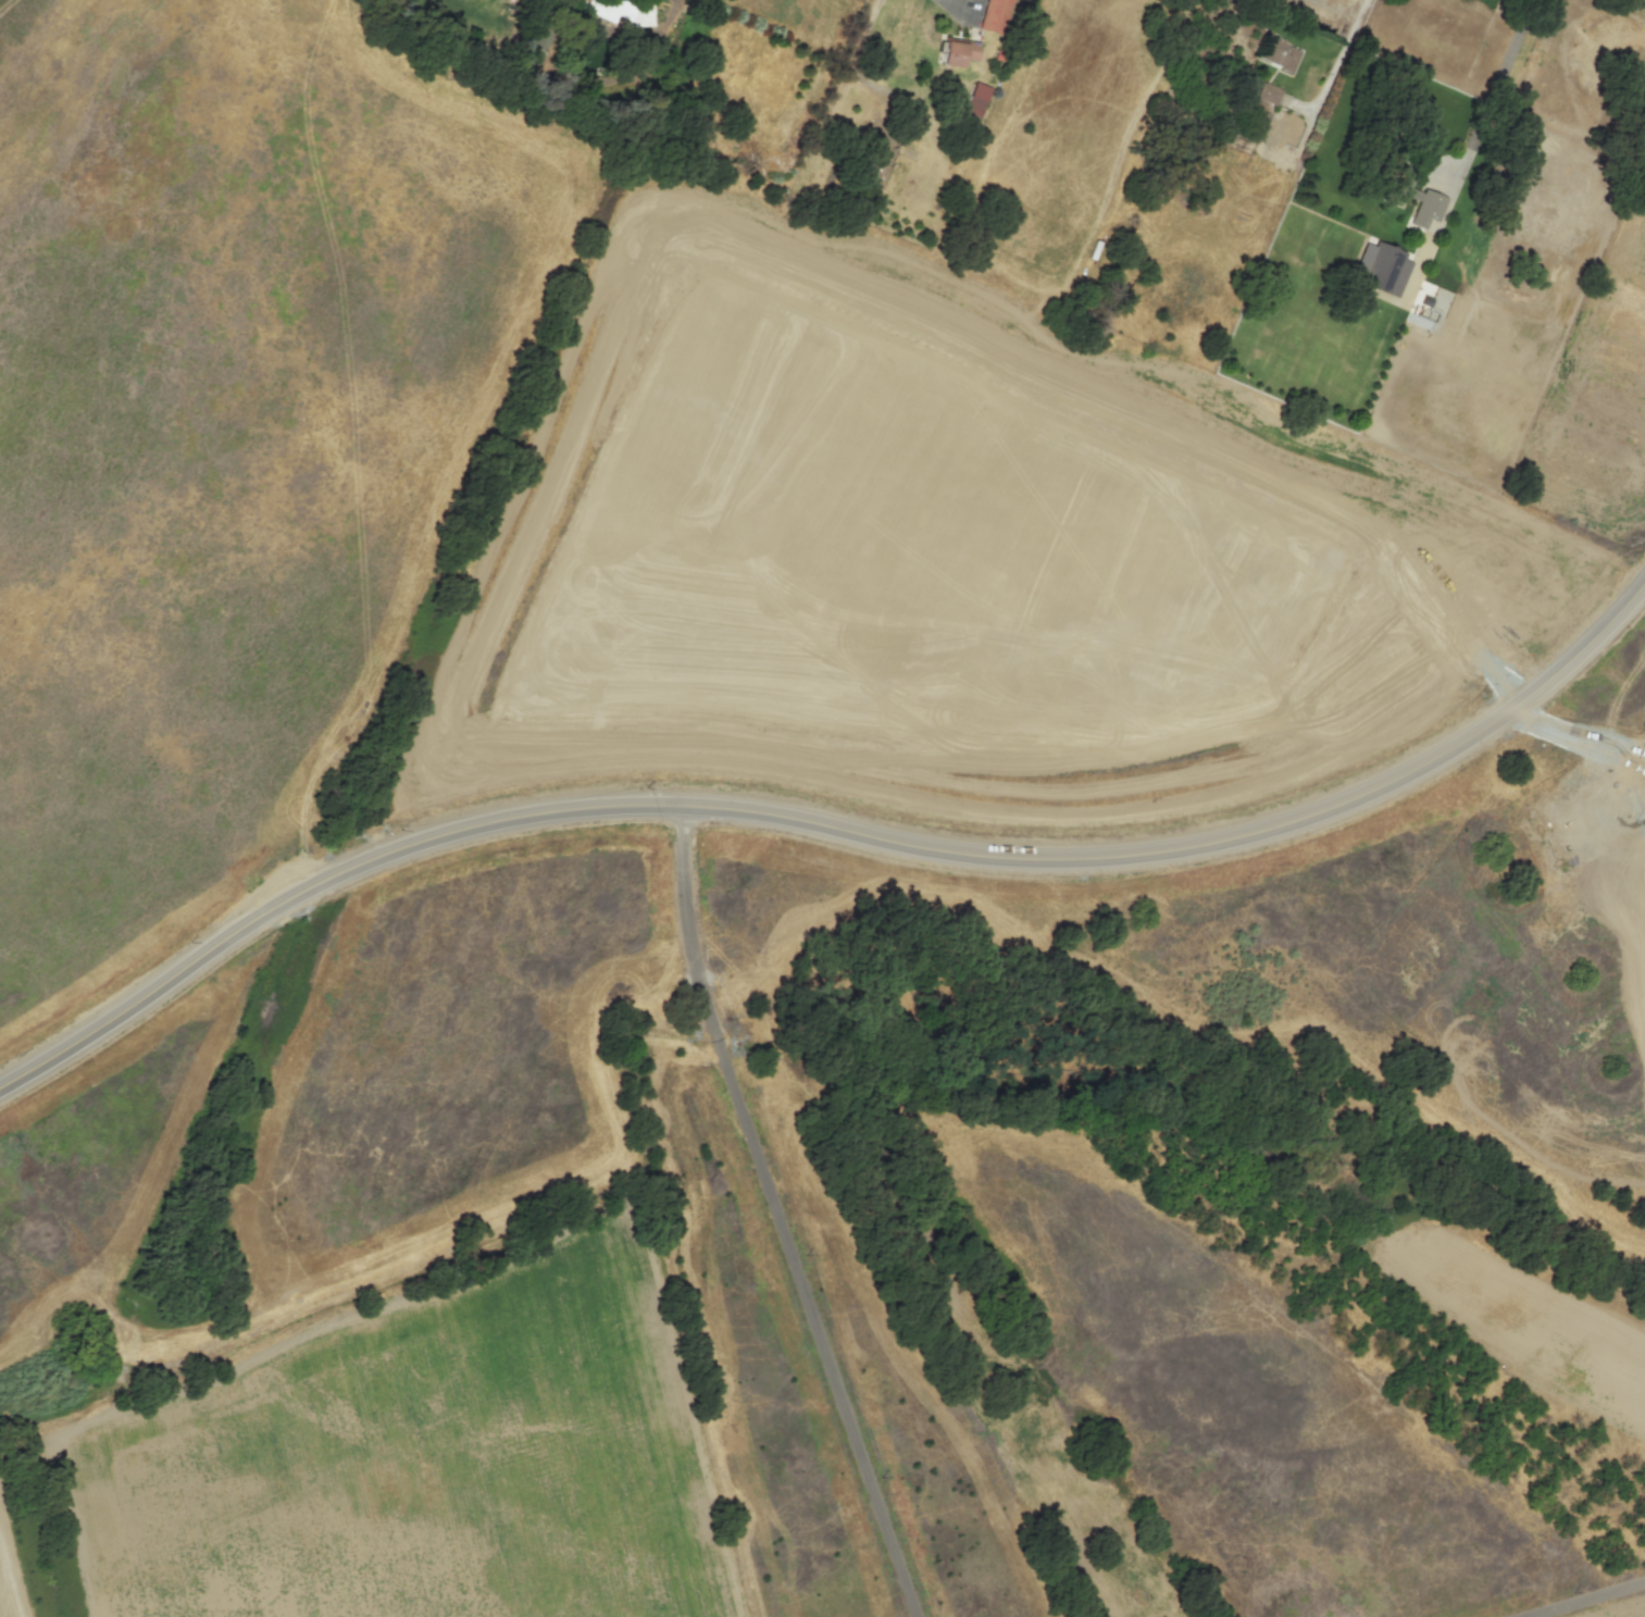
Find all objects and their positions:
building: (994, 15)
road: (1461, 26)
road: (1515, 36)
building: (958, 51)
building: (1278, 53)
road: (1335, 64)
building: (1267, 92)
building: (974, 100)
building: (1263, 117)
road: (1476, 127)
building: (1405, 189)
building: (1382, 266)
building: (1431, 284)
road: (828, 824)
road: (776, 1215)
crop: (9, 1580)
road: (1582, 1597)

